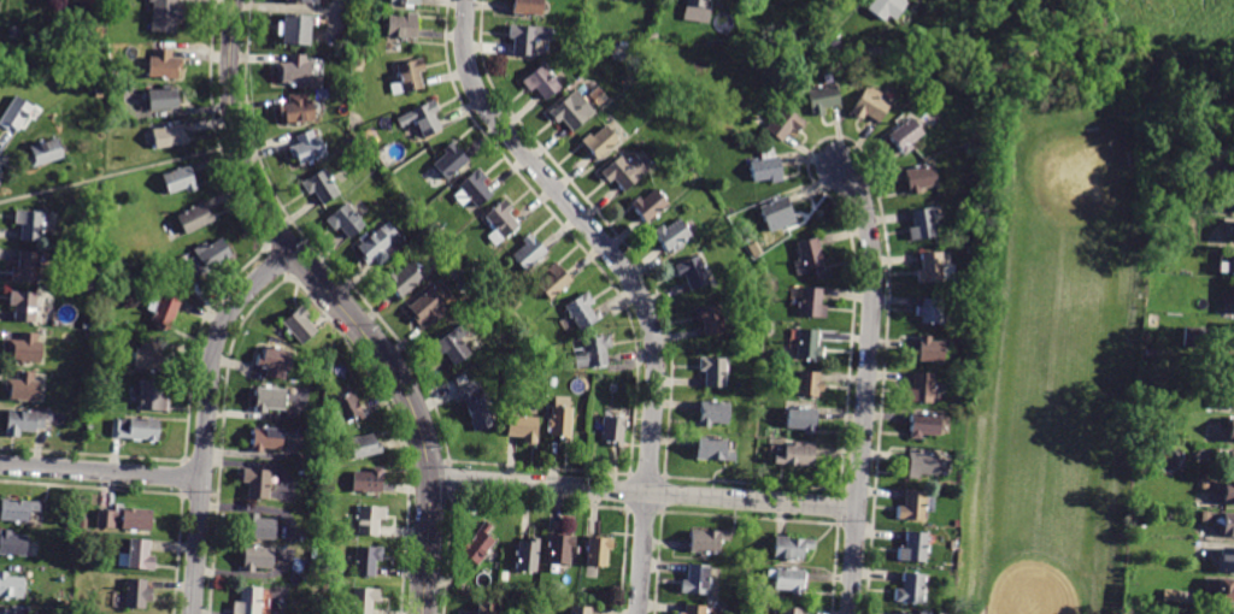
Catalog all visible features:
building: (301, 1)
building: (405, 1)
building: (527, 7)
building: (886, 7)
building: (697, 11)
building: (164, 14)
building: (401, 26)
building: (294, 29)
park: (1150, 30)
building: (13, 33)
building: (652, 36)
building: (527, 39)
building: (774, 39)
building: (359, 60)
building: (161, 65)
building: (294, 70)
building: (769, 70)
building: (113, 73)
building: (409, 77)
building: (541, 83)
building: (98, 93)
building: (822, 99)
building: (163, 100)
building: (870, 105)
building: (296, 108)
building: (571, 110)
building: (17, 114)
road: (1153, 118)
building: (422, 119)
building: (781, 120)
building: (905, 135)
building: (169, 136)
building: (348, 141)
building: (598, 141)
building: (307, 148)
building: (970, 149)
building: (46, 154)
building: (449, 161)
building: (765, 166)
building: (623, 171)
road: (118, 173)
building: (1199, 173)
building: (1228, 173)
building: (919, 179)
building: (178, 181)
building: (319, 187)
building: (475, 188)
park: (1071, 200)
building: (648, 205)
building: (1233, 207)
building: (777, 212)
building: (195, 218)
building: (345, 222)
building: (500, 223)
building: (924, 223)
building: (30, 225)
building: (169, 231)
building: (1233, 234)
building: (671, 235)
building: (966, 242)
building: (381, 244)
building: (754, 249)
building: (528, 252)
building: (809, 258)
building: (206, 259)
building: (1230, 262)
building: (474, 265)
building: (27, 267)
building: (932, 268)
building: (693, 272)
road: (631, 279)
building: (402, 281)
building: (553, 281)
building: (89, 285)
building: (770, 285)
road: (337, 303)
building: (811, 303)
building: (24, 306)
building: (161, 308)
building: (427, 308)
building: (581, 309)
building: (930, 312)
building: (513, 318)
building: (711, 319)
building: (298, 325)
building: (87, 326)
building: (1193, 337)
building: (453, 344)
building: (809, 344)
building: (28, 348)
building: (930, 350)
building: (590, 352)
building: (149, 355)
building: (1066, 355)
building: (274, 362)
building: (713, 372)
building: (807, 385)
road: (865, 385)
building: (27, 388)
building: (921, 388)
building: (152, 396)
building: (1232, 398)
building: (268, 400)
park: (1056, 405)
building: (476, 407)
building: (346, 409)
building: (713, 413)
building: (83, 415)
road: (205, 418)
building: (801, 420)
building: (24, 421)
building: (559, 423)
building: (923, 426)
building: (522, 427)
building: (136, 429)
building: (612, 429)
building: (1230, 431)
building: (266, 439)
building: (363, 445)
building: (712, 450)
building: (794, 455)
building: (1229, 464)
building: (921, 465)
road: (100, 471)
building: (366, 482)
building: (255, 483)
building: (1204, 484)
road: (644, 491)
building: (1228, 492)
building: (911, 506)
building: (18, 510)
building: (1205, 518)
building: (127, 519)
building: (368, 520)
building: (1214, 521)
building: (1227, 525)
building: (258, 527)
building: (706, 541)
building: (13, 544)
building: (477, 544)
building: (791, 548)
building: (913, 548)
building: (559, 549)
building: (597, 551)
building: (527, 555)
building: (139, 556)
building: (257, 560)
building: (365, 561)
building: (1226, 561)
park: (1053, 567)
building: (695, 580)
building: (787, 580)
building: (12, 586)
building: (324, 586)
building: (910, 589)
building: (1224, 591)
building: (136, 594)
building: (1171, 596)
building: (247, 601)
building: (362, 601)
building: (751, 604)
building: (487, 608)
building: (722, 608)
building: (580, 609)
building: (693, 609)
building: (789, 610)
building: (1221, 610)
building: (6, 612)

